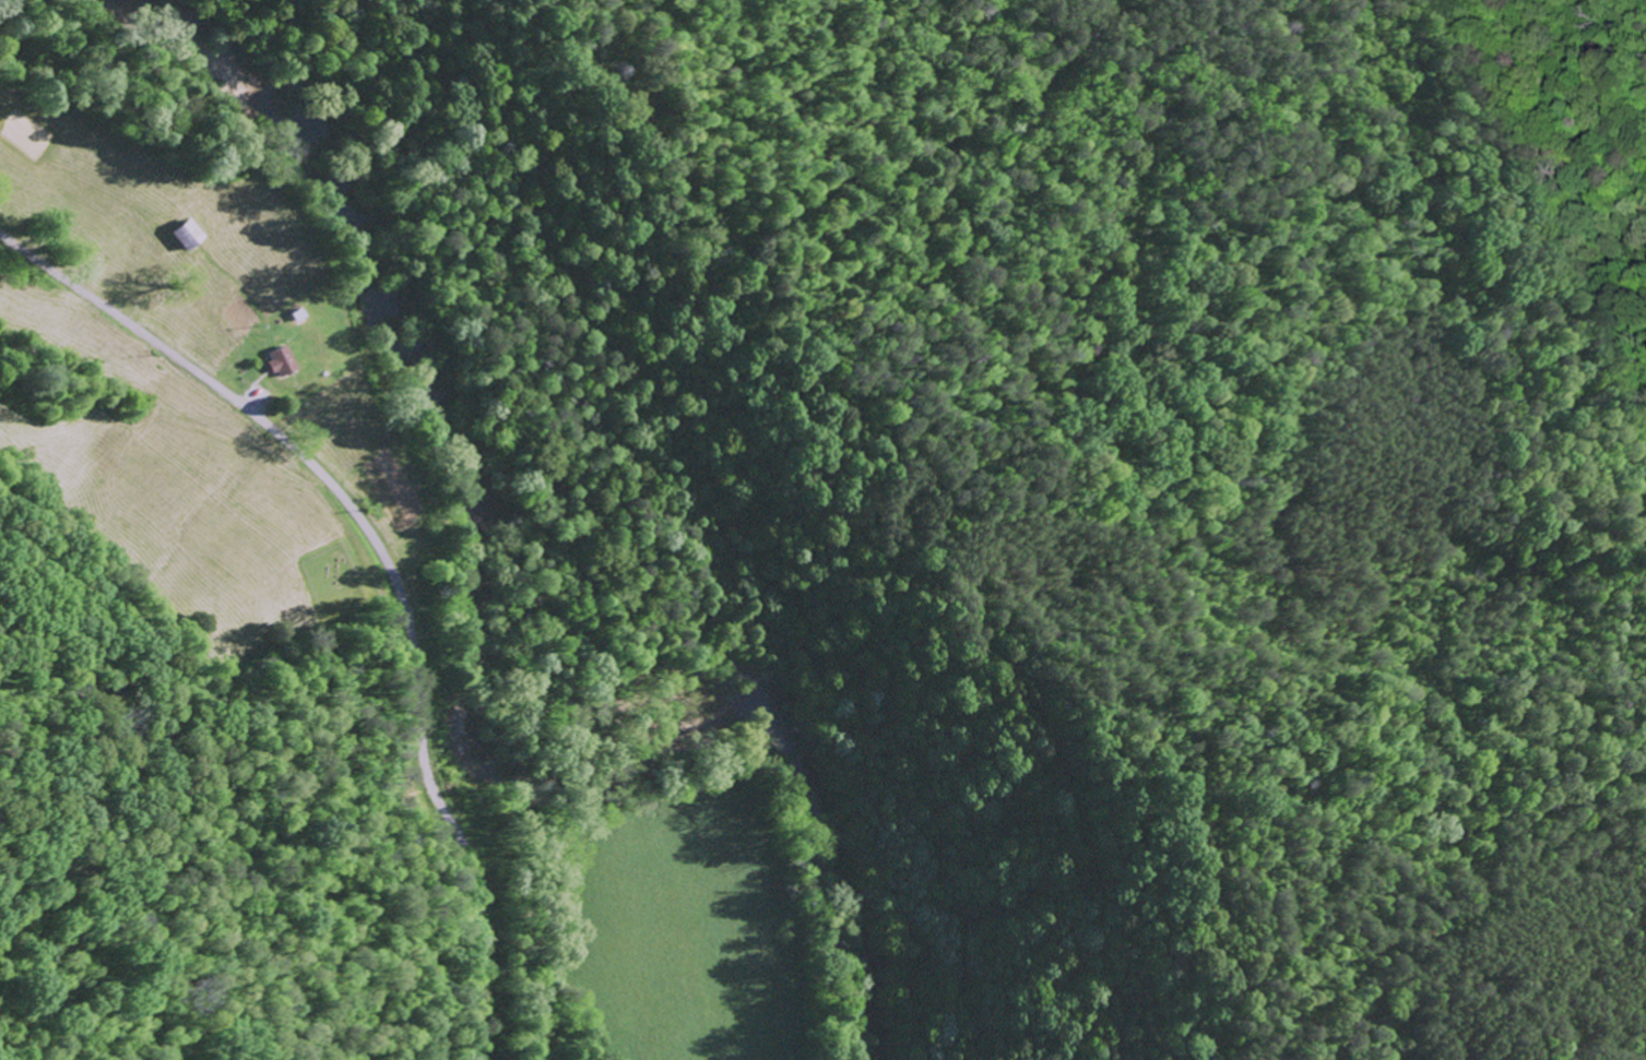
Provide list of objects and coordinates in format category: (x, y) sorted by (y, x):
building: (280, 360)
road: (383, 561)

